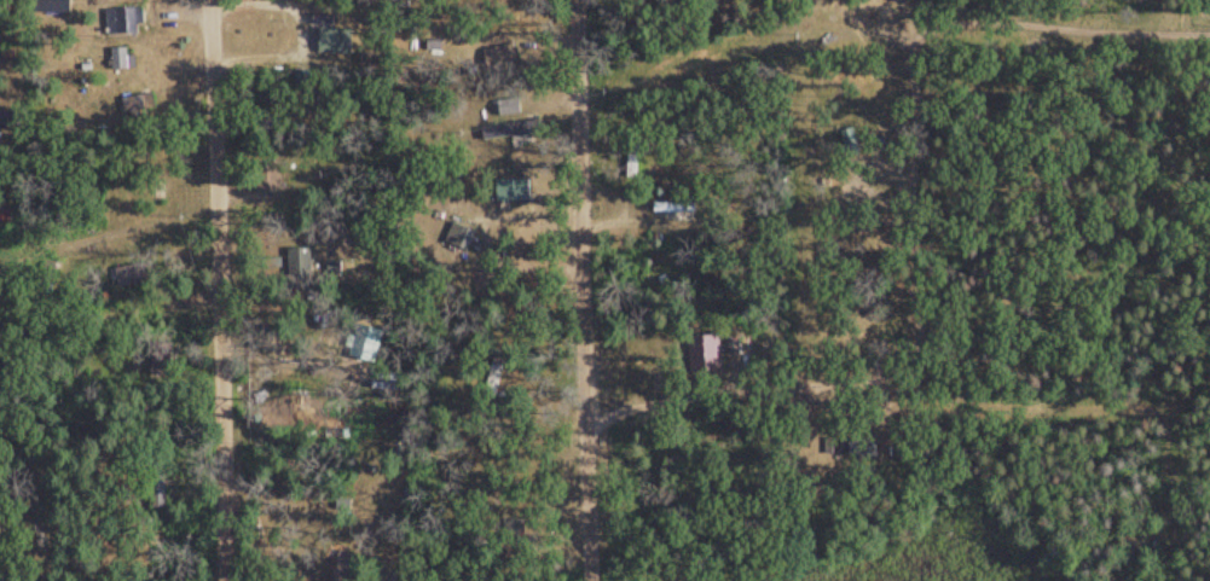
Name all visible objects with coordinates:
building: (511, 129)
road: (656, 260)
road: (216, 290)
road: (573, 290)
road: (1160, 341)
road: (1003, 359)

